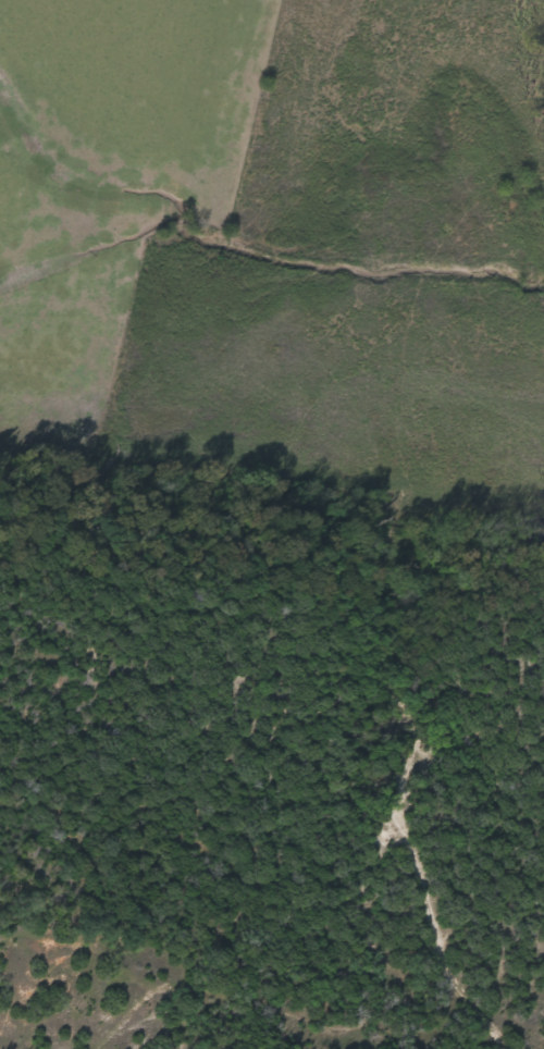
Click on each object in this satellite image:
road: (374, 950)

